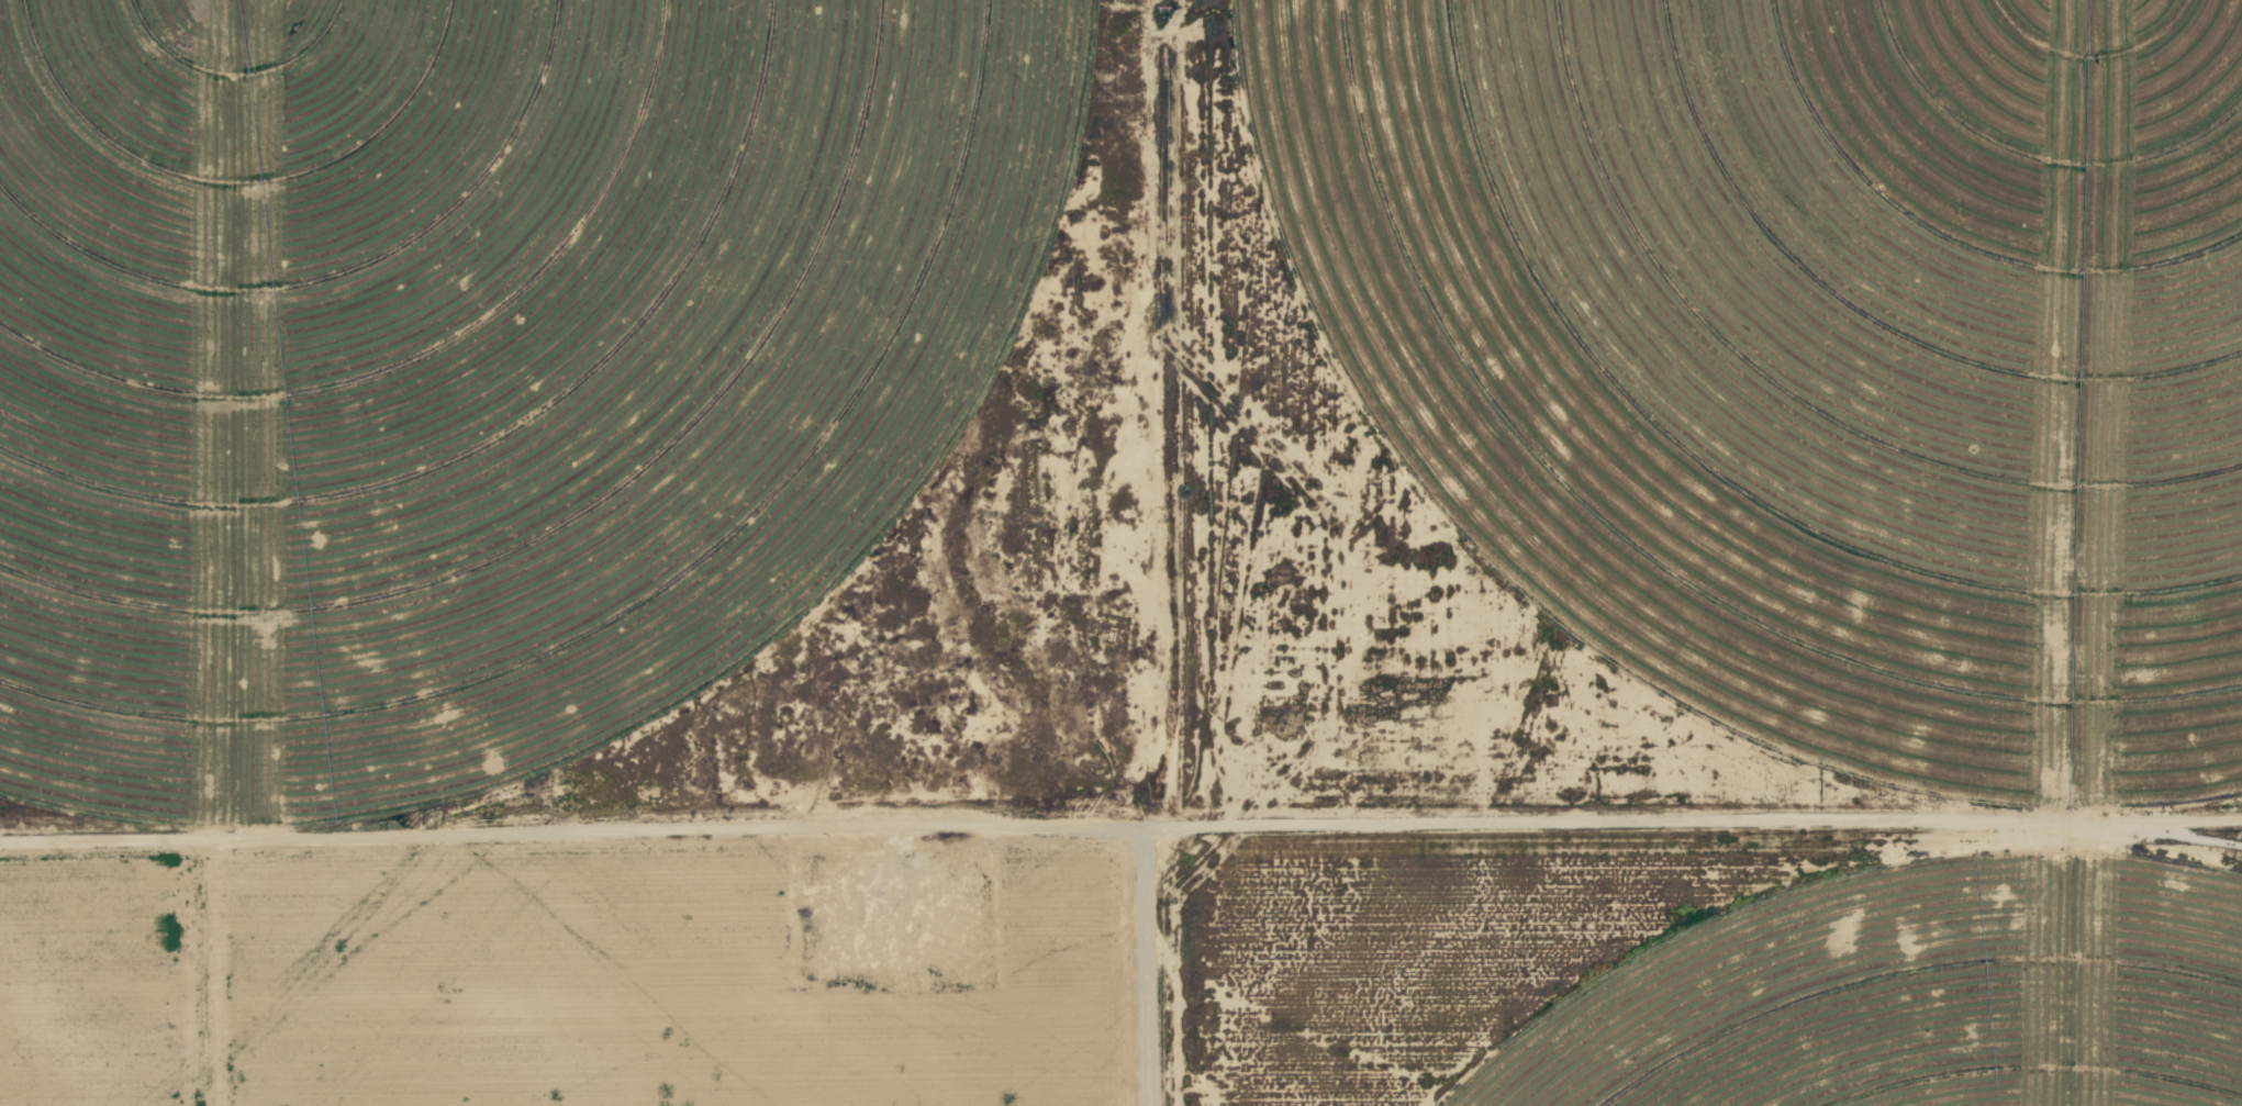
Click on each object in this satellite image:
crop: (1815, 347)
crop: (467, 359)
road: (1155, 552)
road: (1698, 807)
crop: (572, 973)
crop: (1920, 997)

